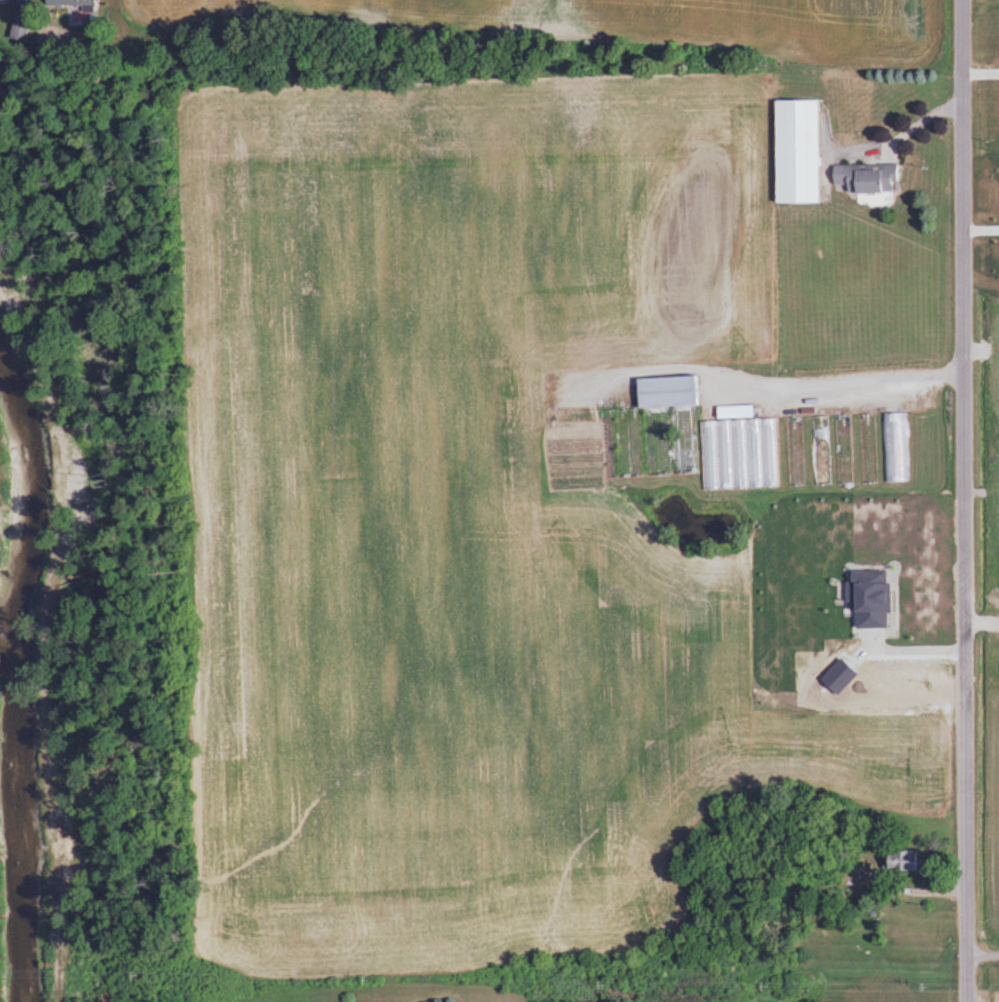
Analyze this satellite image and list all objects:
building: (10, 1)
building: (69, 3)
building: (794, 151)
building: (866, 178)
building: (705, 439)
building: (896, 447)
building: (869, 449)
building: (845, 450)
building: (822, 451)
building: (796, 452)
road: (953, 501)
building: (898, 860)
road: (979, 950)

